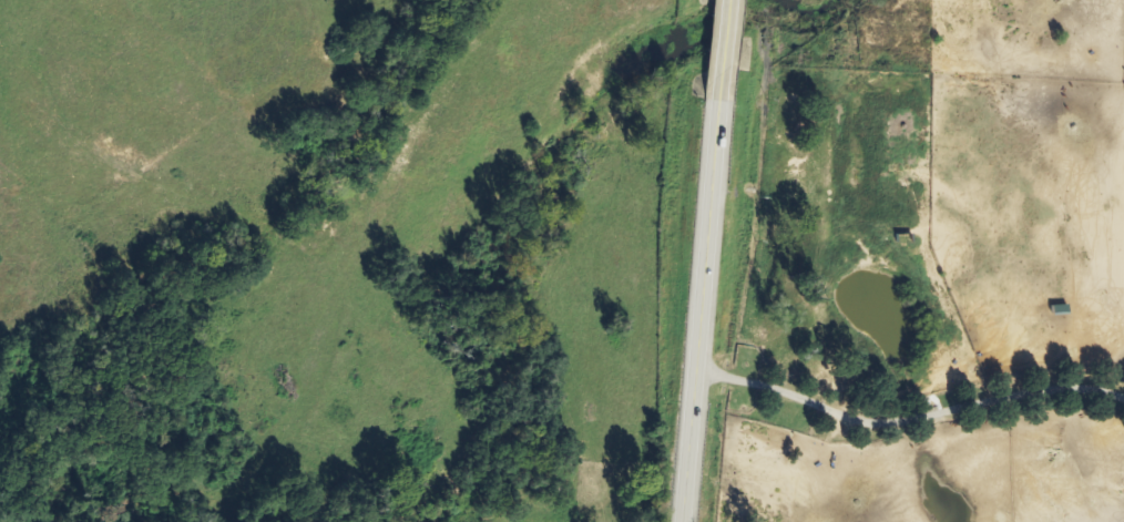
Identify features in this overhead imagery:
road: (703, 260)
road: (907, 418)

